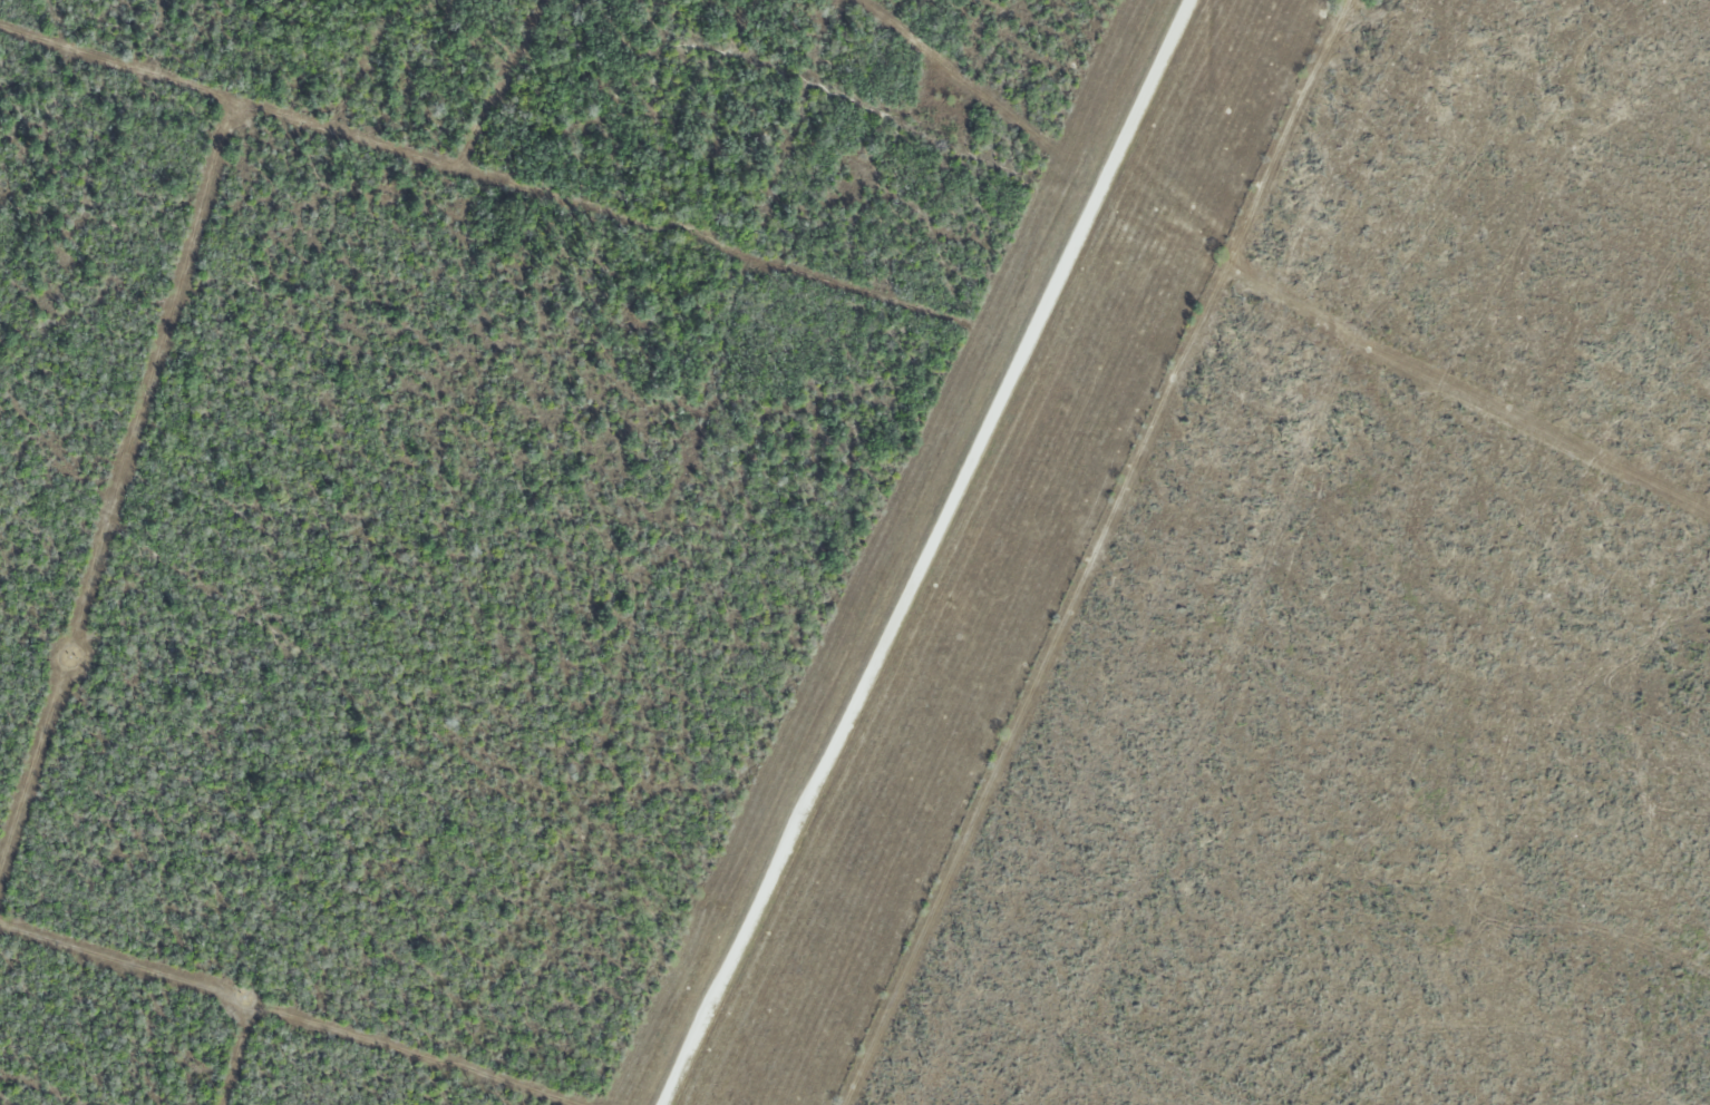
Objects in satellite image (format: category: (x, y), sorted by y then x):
road: (931, 552)

